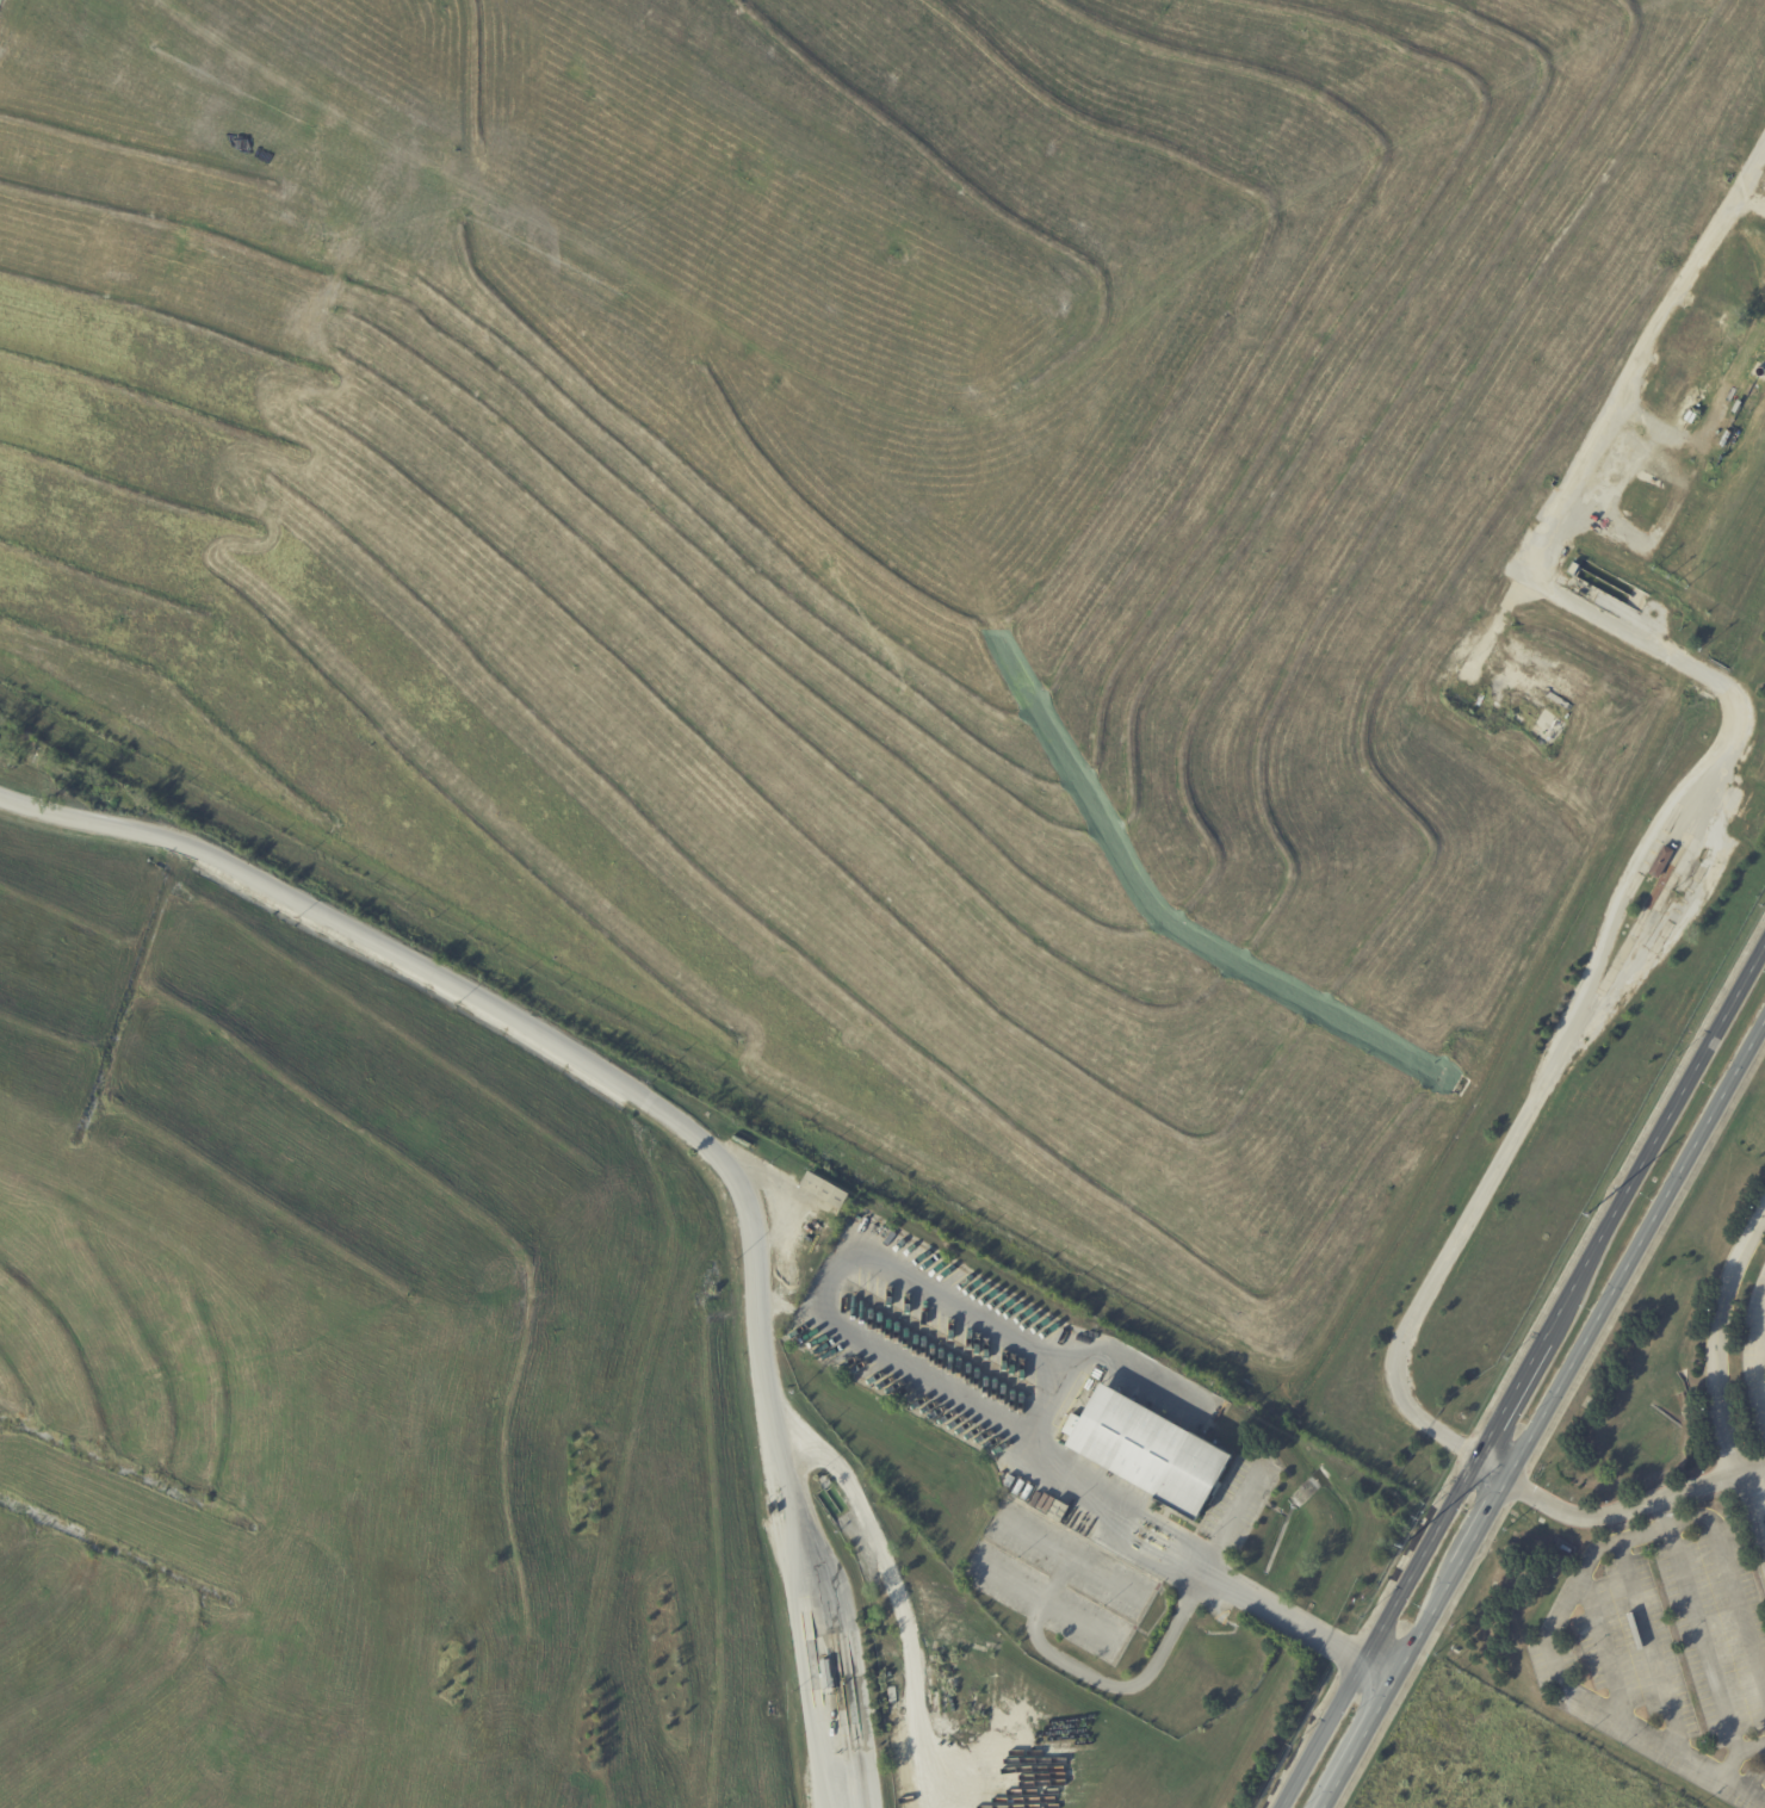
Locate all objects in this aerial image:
building: (1696, 348)
building: (1734, 407)
building: (1724, 439)
landfill: (891, 533)
building: (1573, 569)
building: (1472, 711)
building: (1517, 719)
building: (1752, 823)
building: (1659, 863)
building: (1656, 888)
road: (1687, 918)
road: (669, 1107)
building: (819, 1190)
road: (855, 1336)
road: (1135, 1362)
road: (1763, 1362)
road: (1718, 1370)
road: (1519, 1372)
landfill: (363, 1382)
road: (1544, 1413)
building: (1148, 1453)
road: (1491, 1468)
building: (1010, 1482)
building: (826, 1485)
road: (1634, 1510)
building: (1059, 1512)
road: (1230, 1585)
road: (1377, 1670)
building: (830, 1673)
road: (1655, 1682)
road: (1102, 1685)

